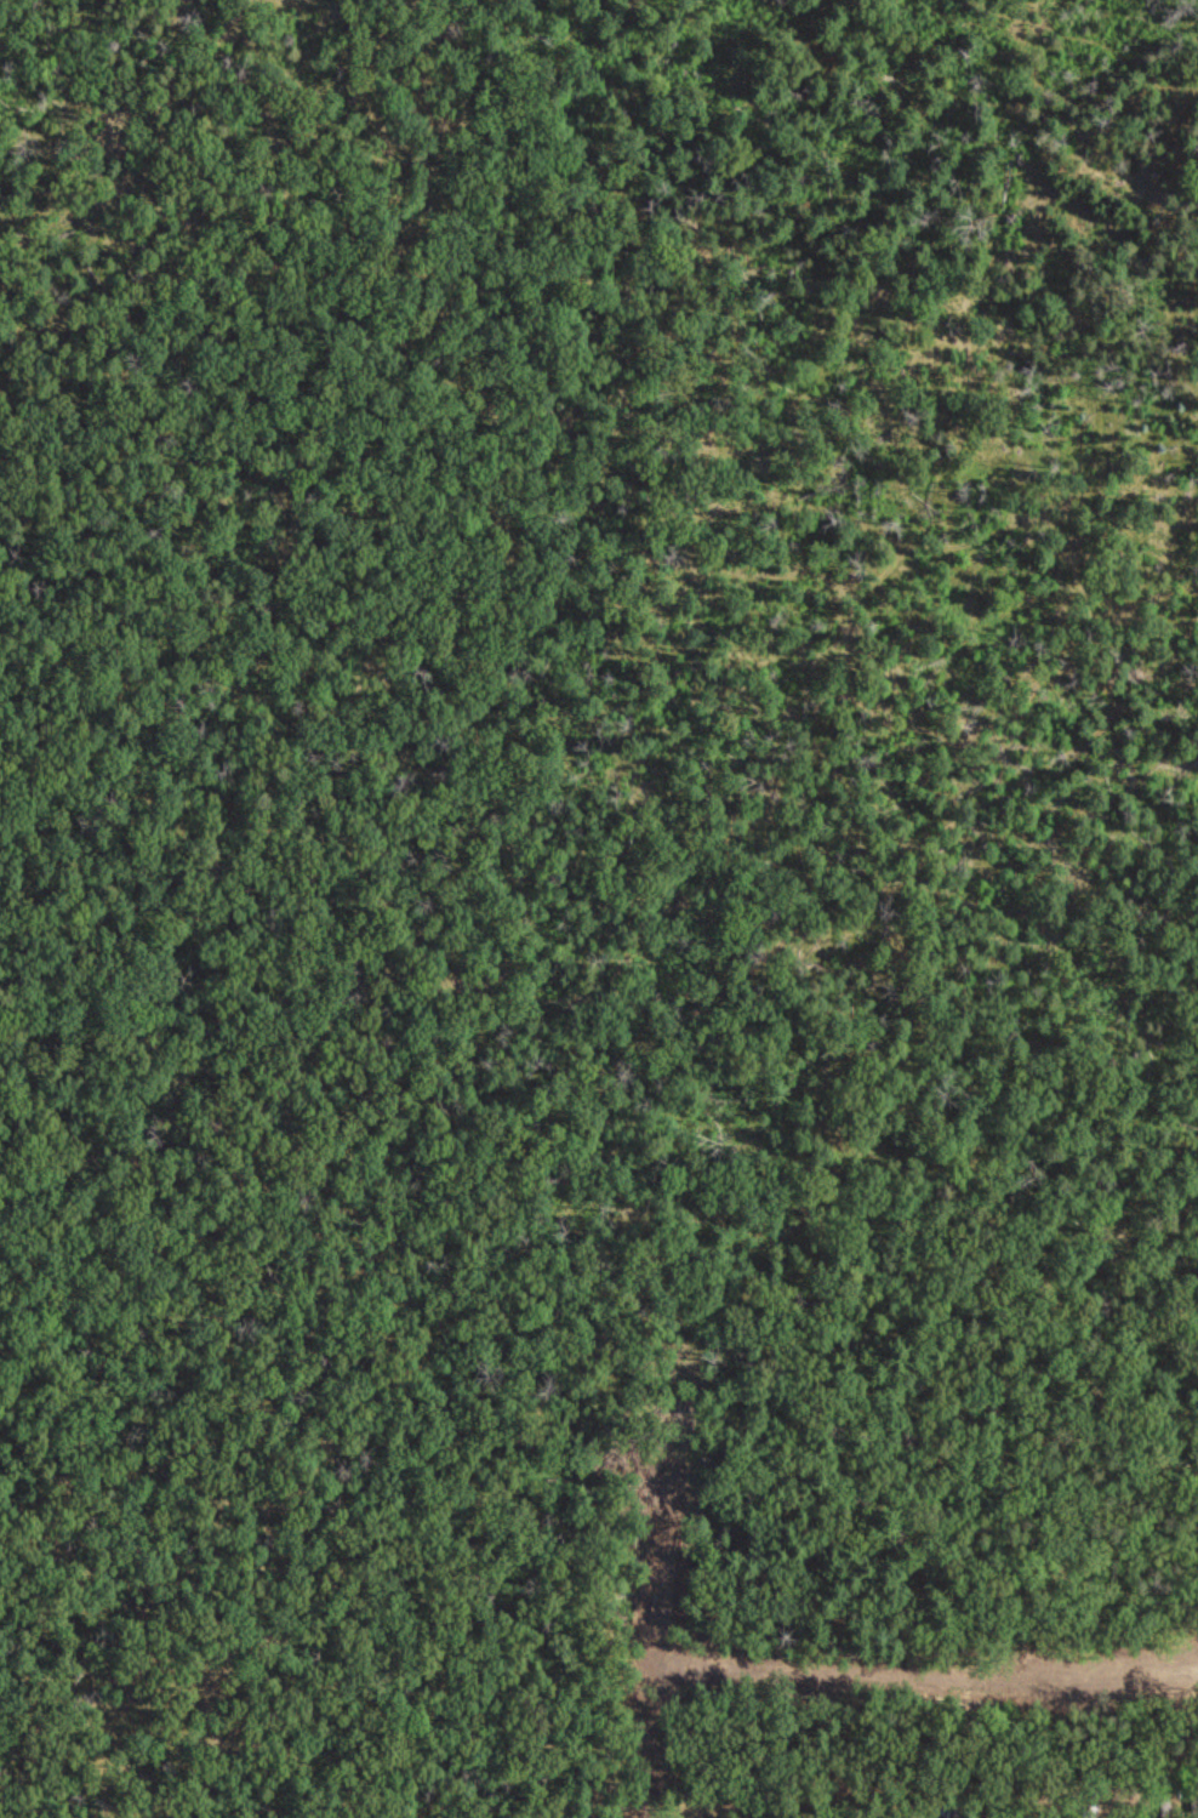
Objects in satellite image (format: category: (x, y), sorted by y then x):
building: (1133, 1802)
building: (1165, 1805)

